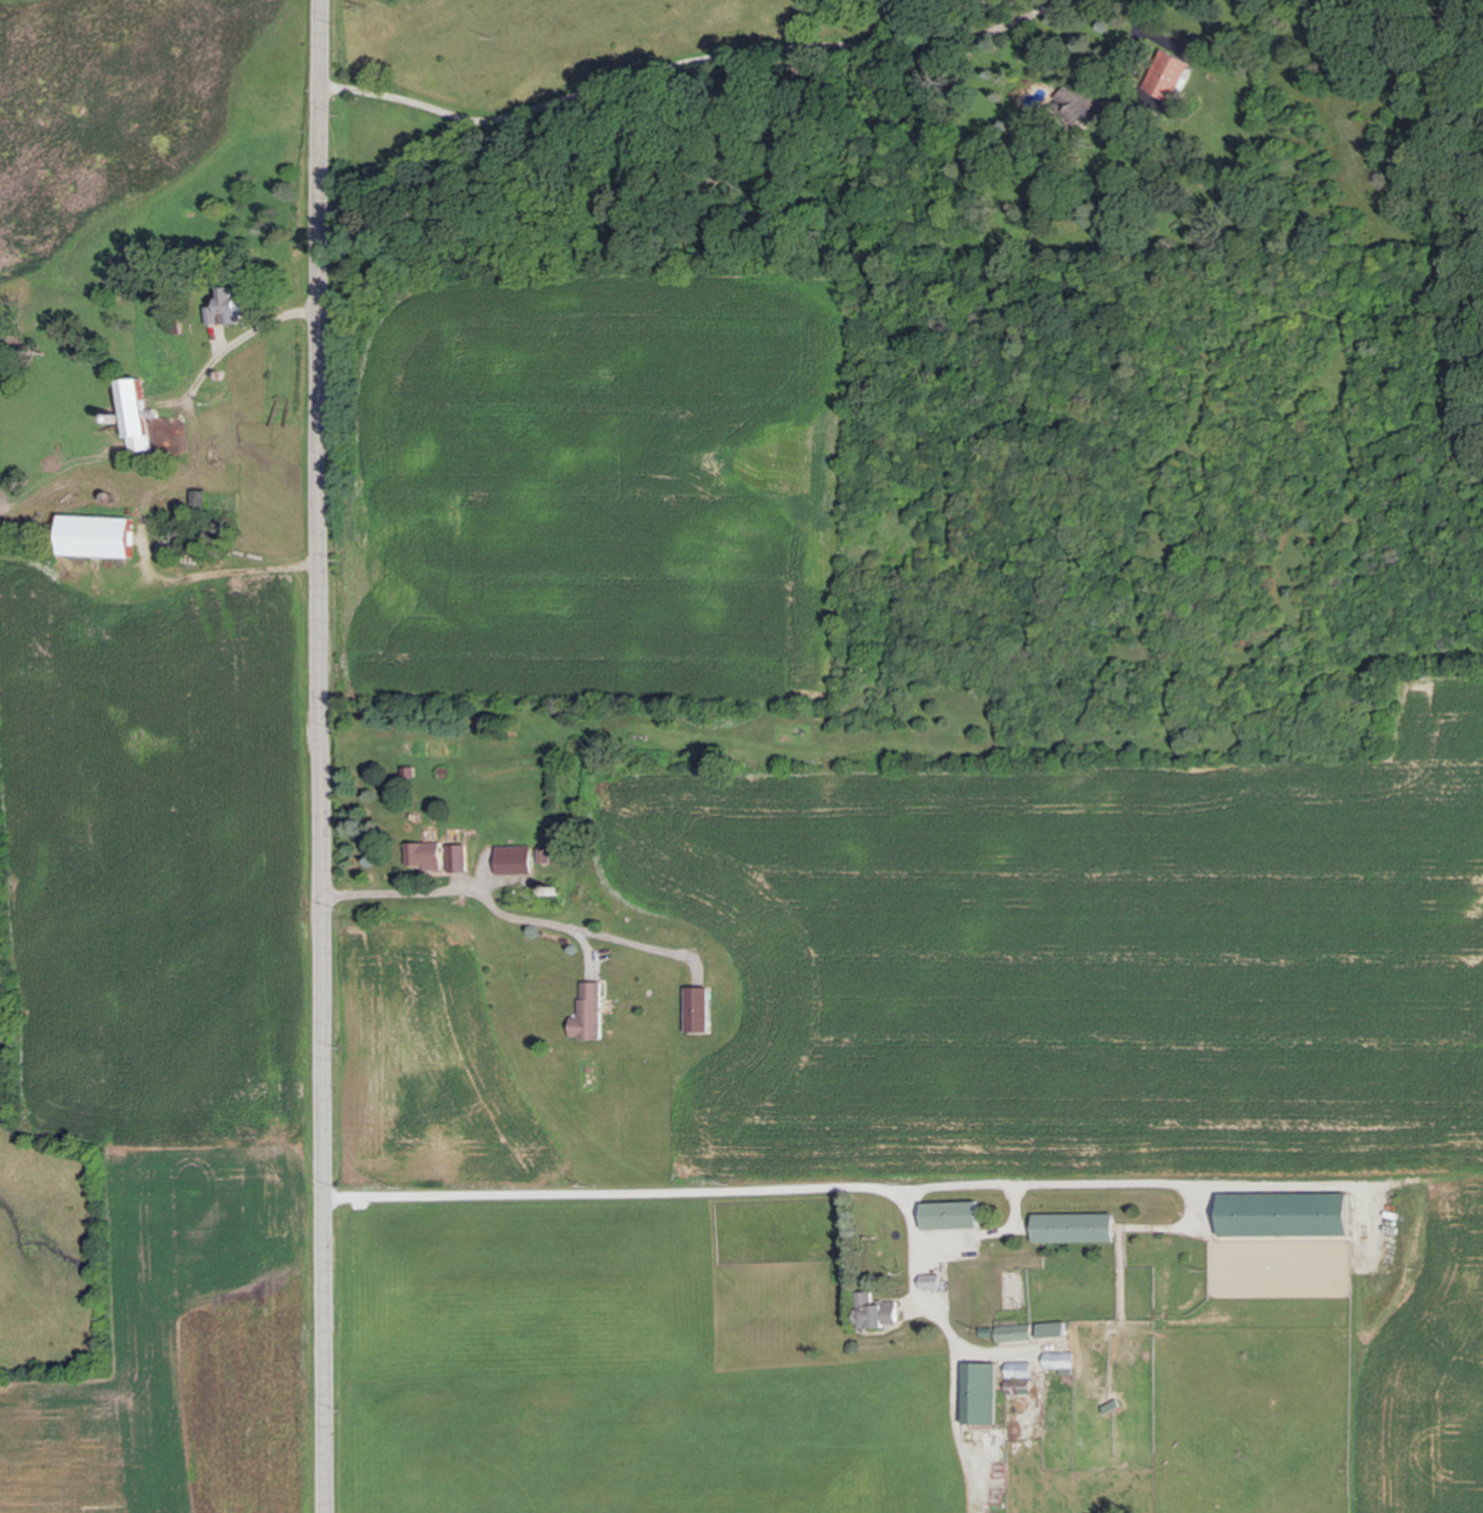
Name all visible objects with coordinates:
road: (689, 62)
building: (1167, 73)
building: (1076, 101)
building: (222, 310)
building: (173, 322)
building: (135, 404)
building: (114, 417)
road: (160, 486)
building: (195, 496)
building: (96, 535)
road: (318, 756)
building: (543, 855)
building: (555, 855)
building: (423, 857)
building: (455, 859)
building: (513, 862)
road: (493, 908)
building: (587, 1012)
road: (843, 1191)
building: (948, 1213)
building: (1281, 1214)
building: (1072, 1228)
road: (981, 1233)
building: (928, 1279)
building: (871, 1311)
road: (935, 1319)
building: (982, 1329)
building: (1013, 1330)
building: (1050, 1331)
building: (1057, 1359)
building: (1018, 1368)
building: (1018, 1387)
building: (978, 1393)
building: (1109, 1407)

